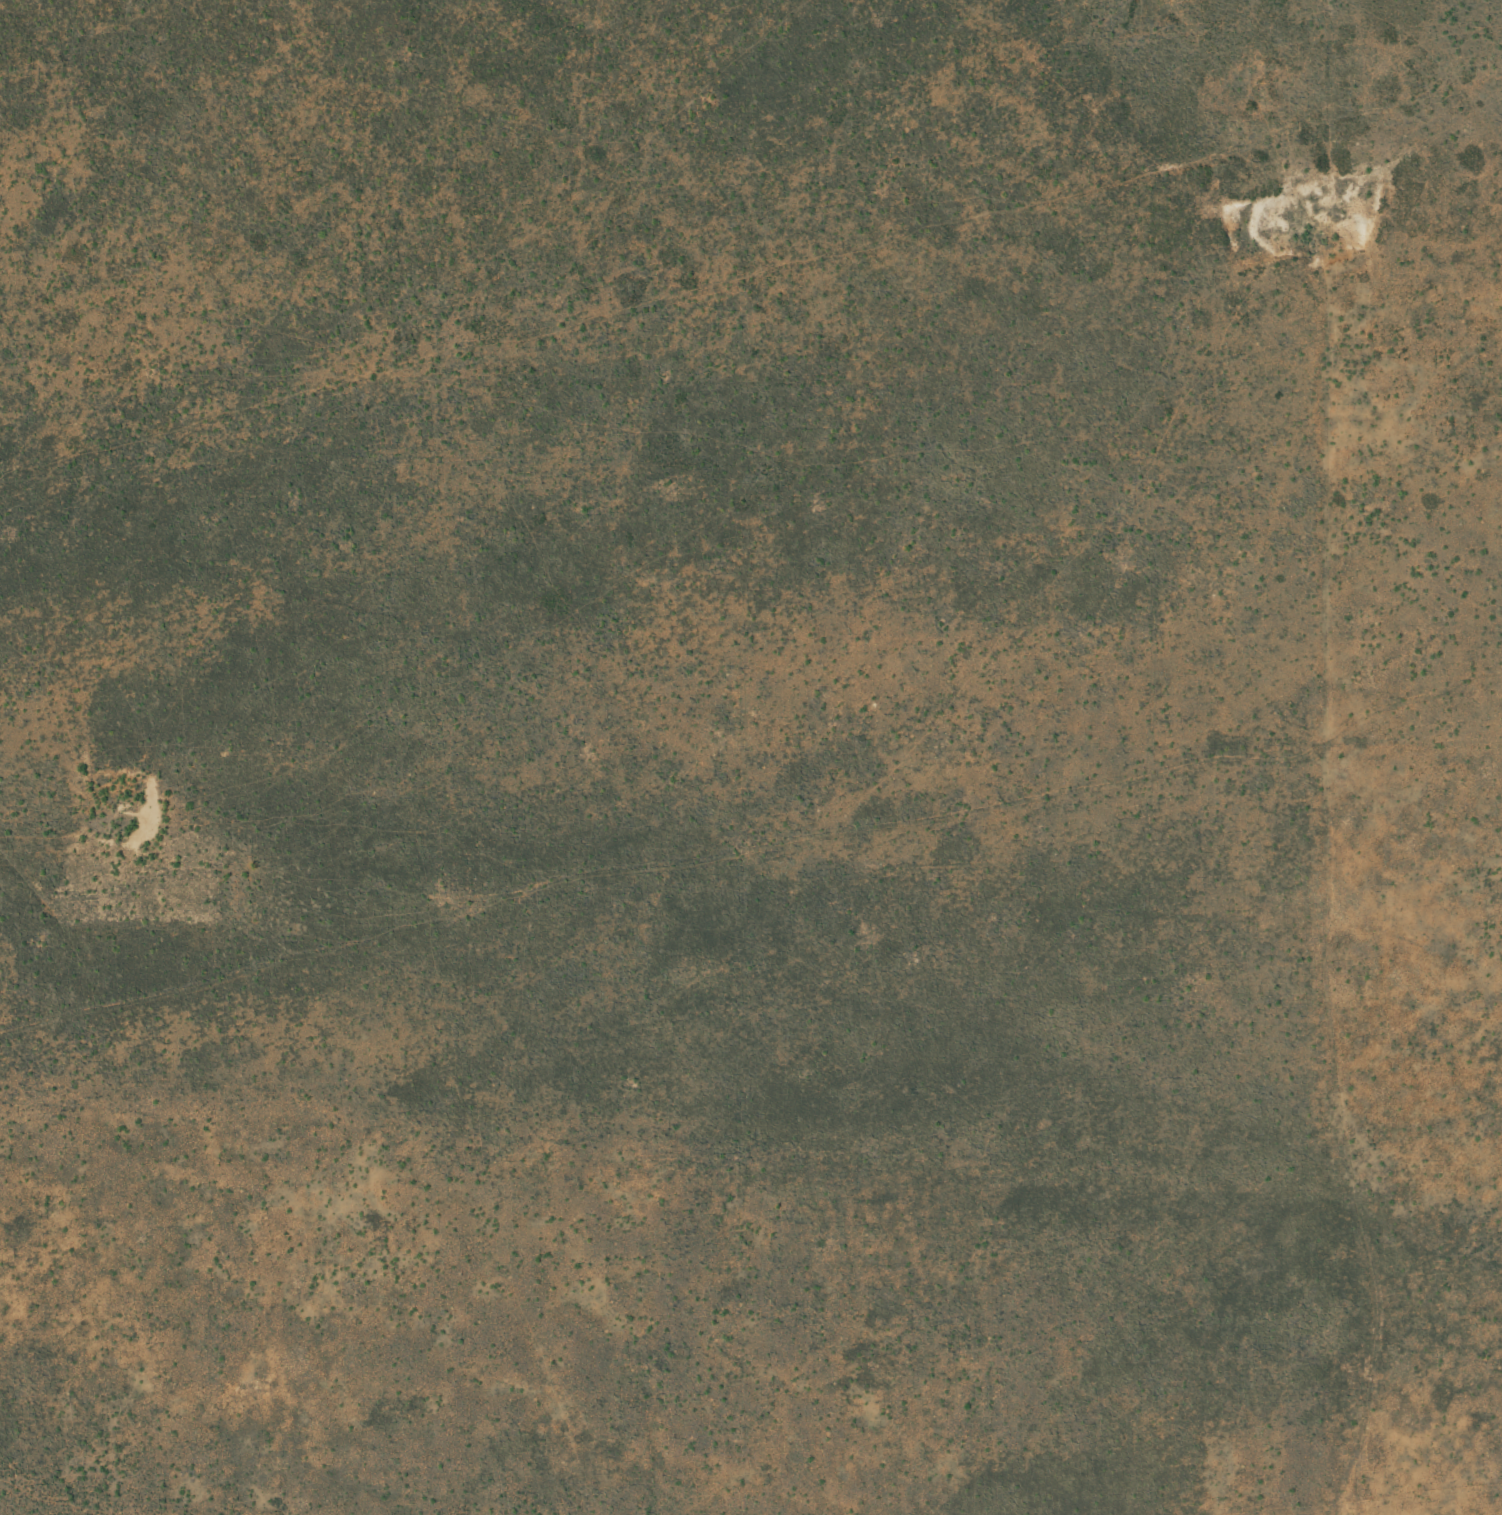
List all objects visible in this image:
road: (736, 706)
road: (1332, 766)

